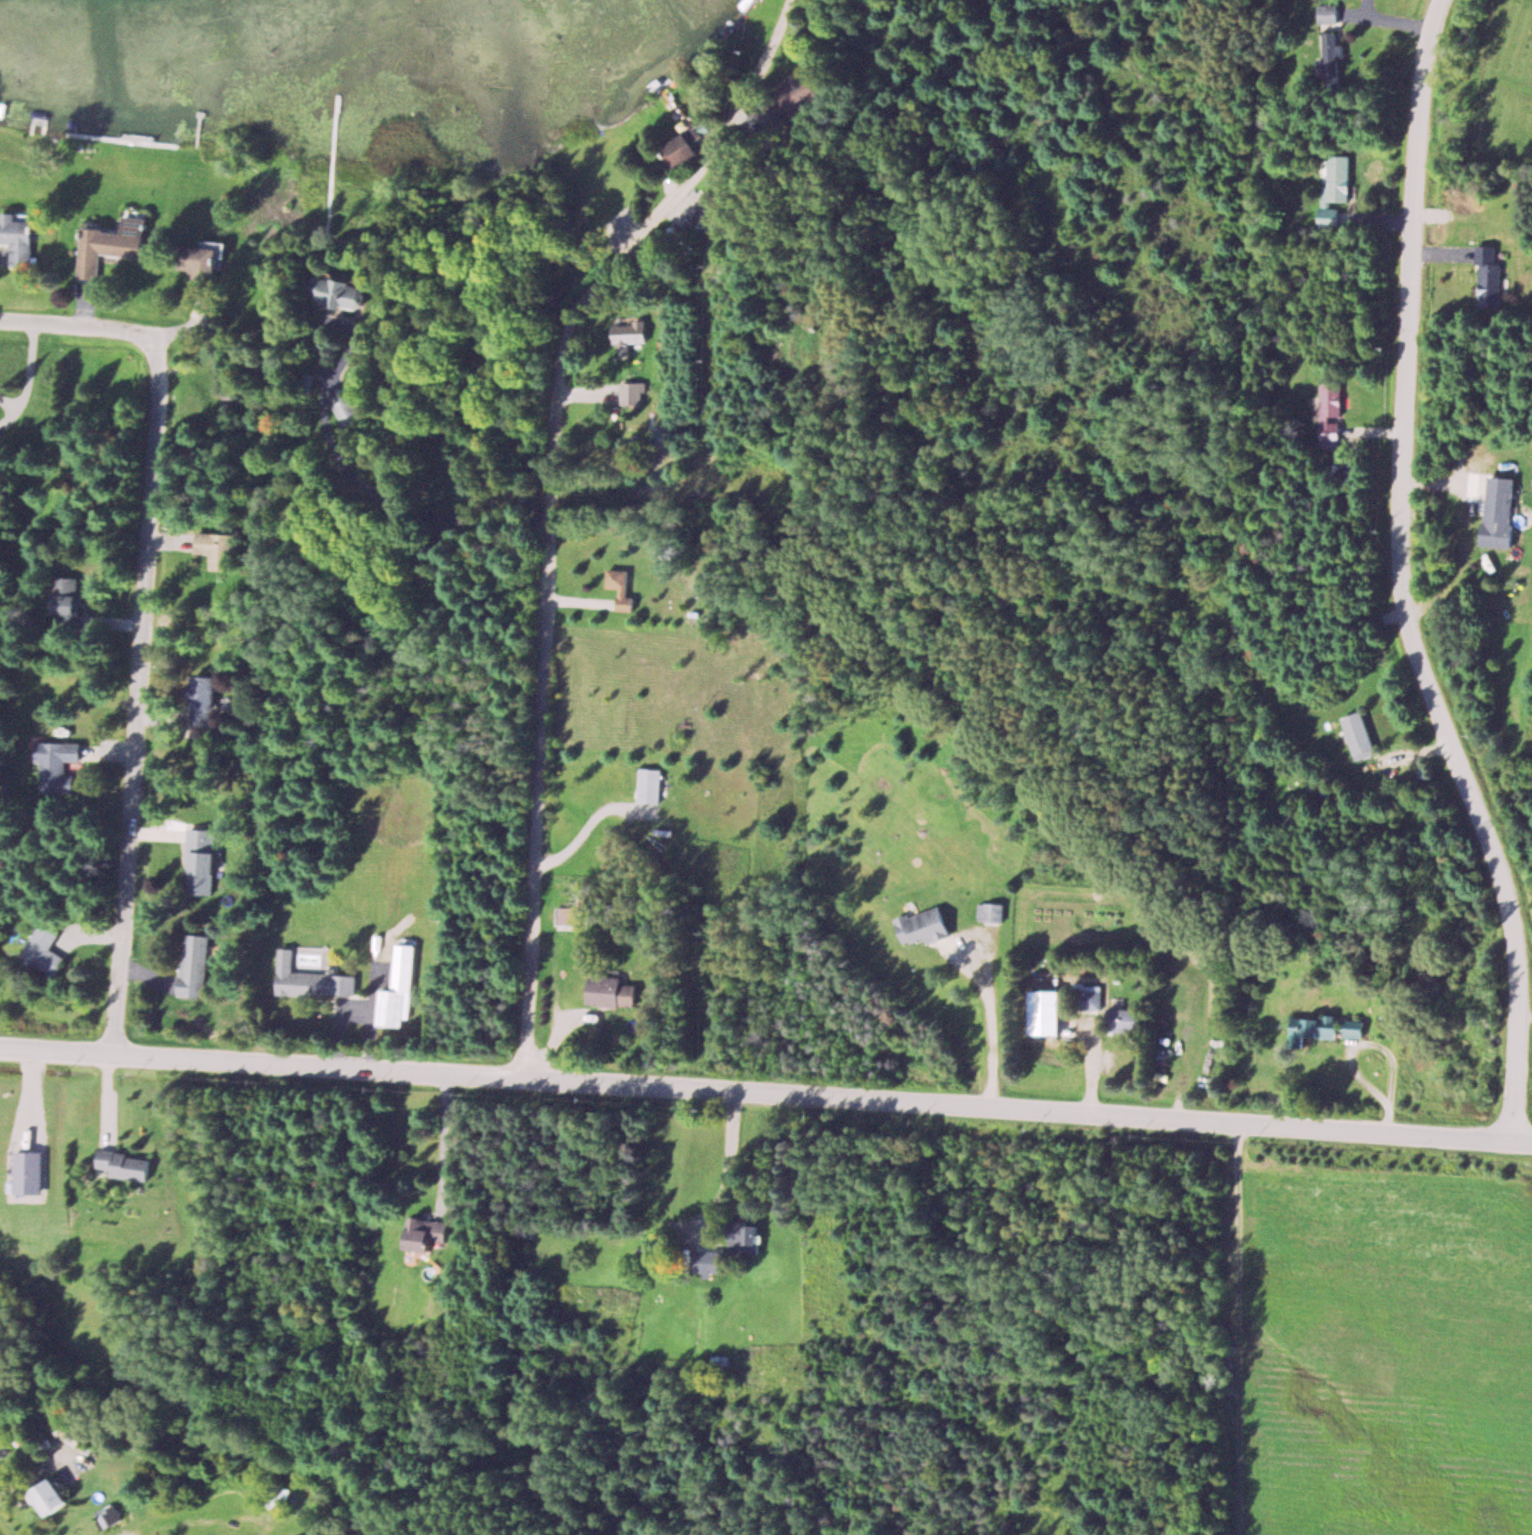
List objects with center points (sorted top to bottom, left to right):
building: (1329, 12)
building: (673, 111)
building: (1335, 187)
building: (20, 237)
building: (116, 245)
building: (203, 262)
building: (1488, 276)
building: (327, 288)
building: (356, 295)
road: (487, 330)
road: (80, 332)
building: (630, 332)
building: (631, 392)
building: (350, 410)
building: (1330, 410)
road: (556, 505)
building: (1500, 510)
building: (223, 549)
road: (1403, 581)
building: (623, 587)
building: (68, 601)
road: (142, 700)
building: (206, 700)
building: (1364, 734)
building: (59, 763)
building: (649, 785)
building: (203, 861)
building: (990, 912)
building: (567, 915)
building: (925, 926)
building: (48, 949)
building: (195, 965)
building: (313, 979)
building: (400, 988)
building: (611, 991)
building: (1125, 1016)
building: (1324, 1027)
road: (766, 1097)
building: (123, 1164)
building: (429, 1232)
building: (751, 1240)
building: (68, 1433)
building: (275, 1495)
building: (53, 1496)

